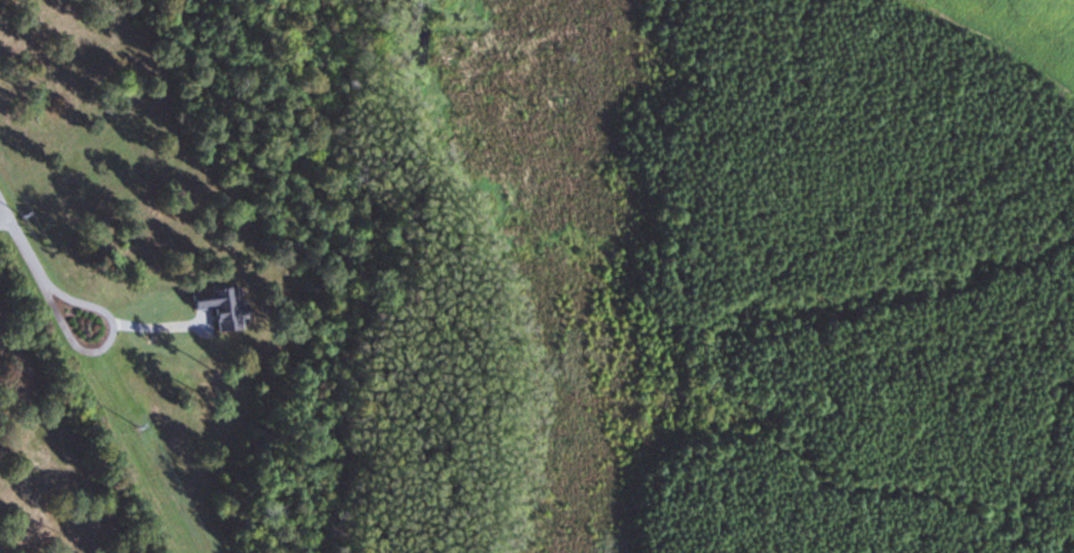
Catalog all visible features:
power tower: (28, 215)
road: (6, 227)
road: (76, 350)
power tower: (158, 428)

